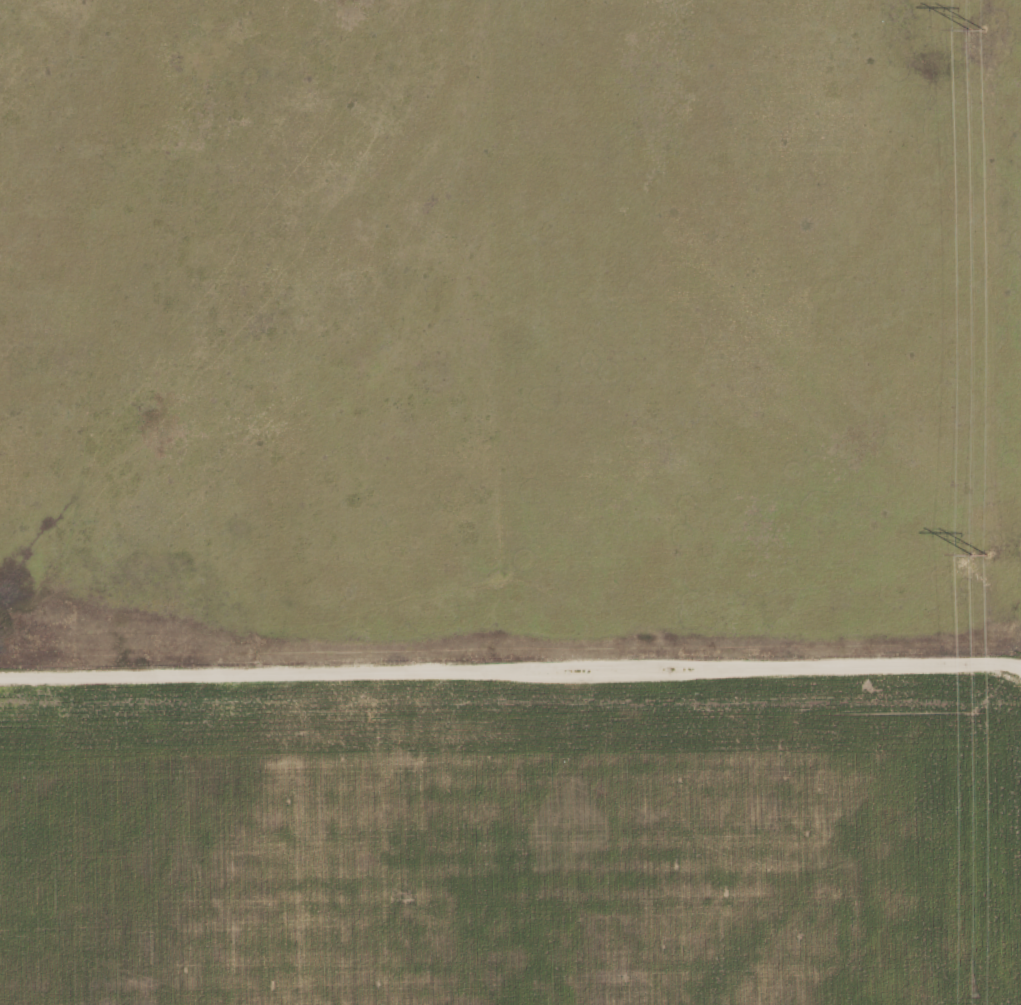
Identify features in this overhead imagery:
power tower: (974, 32)
power tower: (977, 560)

